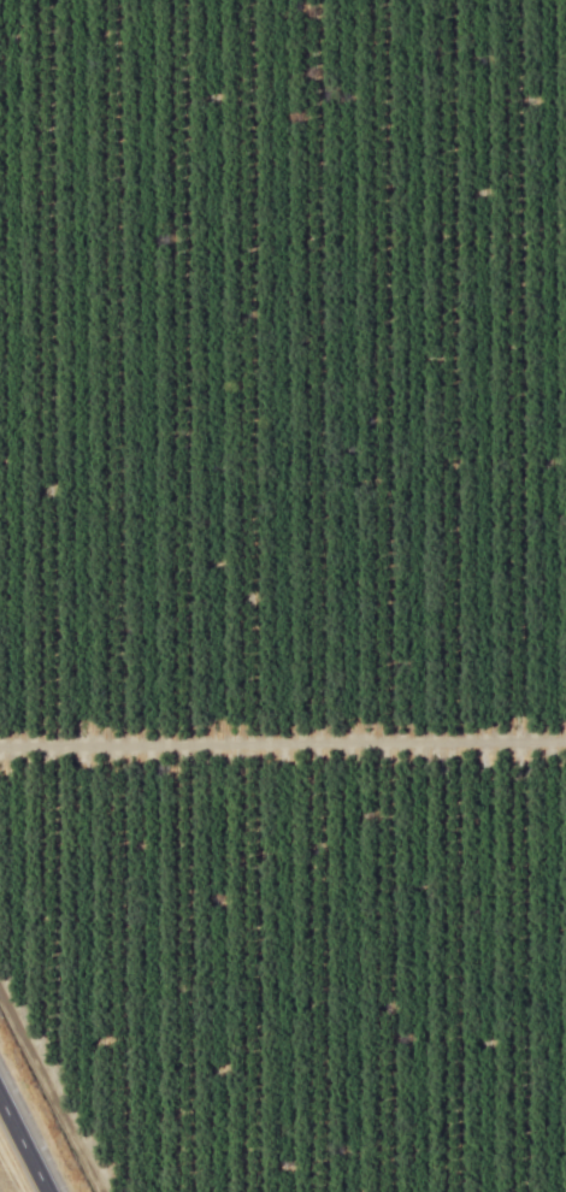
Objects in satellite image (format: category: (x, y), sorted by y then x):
road: (23, 1145)

